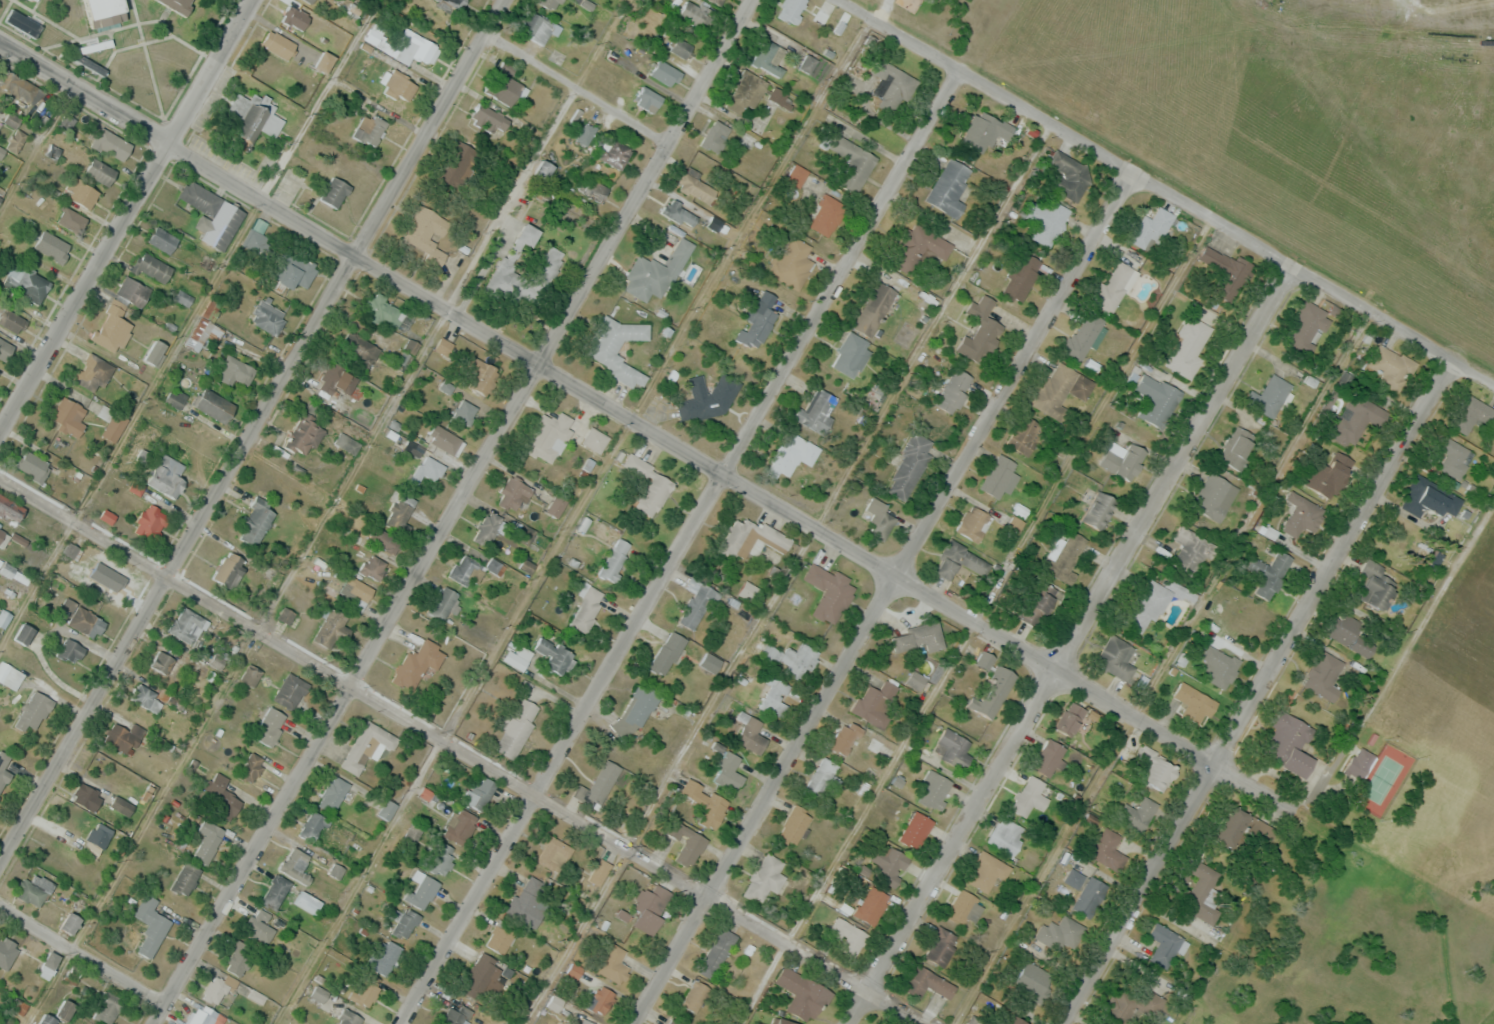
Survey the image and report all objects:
building: (37, 0)
building: (455, 3)
building: (550, 3)
building: (175, 5)
building: (792, 8)
building: (101, 10)
building: (695, 12)
building: (295, 17)
building: (438, 19)
building: (539, 26)
building: (374, 33)
building: (278, 44)
building: (410, 45)
building: (680, 47)
building: (768, 56)
building: (324, 61)
building: (664, 72)
building: (20, 85)
building: (398, 85)
building: (891, 86)
building: (503, 87)
road: (580, 90)
building: (745, 91)
building: (776, 94)
building: (648, 99)
building: (253, 117)
building: (488, 117)
building: (65, 123)
building: (369, 128)
building: (985, 130)
building: (715, 136)
building: (16, 140)
building: (111, 143)
building: (617, 154)
building: (851, 162)
building: (458, 164)
building: (545, 167)
building: (99, 172)
building: (1068, 174)
road: (1146, 179)
building: (695, 187)
building: (949, 187)
building: (592, 189)
building: (334, 191)
building: (83, 194)
building: (672, 208)
building: (212, 214)
building: (826, 214)
road: (128, 216)
building: (70, 219)
building: (1046, 220)
building: (1151, 227)
building: (426, 233)
building: (162, 239)
building: (256, 242)
building: (52, 246)
building: (920, 250)
building: (513, 259)
building: (207, 262)
building: (152, 267)
building: (294, 270)
building: (1225, 270)
building: (655, 272)
building: (1021, 276)
building: (26, 282)
building: (1114, 286)
building: (874, 308)
building: (383, 310)
building: (119, 314)
building: (267, 316)
building: (11, 318)
building: (757, 319)
building: (1303, 325)
building: (204, 328)
building: (982, 332)
building: (1083, 336)
building: (604, 345)
building: (1189, 346)
building: (5, 348)
building: (358, 349)
building: (155, 351)
building: (406, 354)
building: (851, 354)
building: (1386, 367)
building: (234, 370)
building: (93, 373)
building: (481, 376)
building: (338, 380)
building: (953, 390)
building: (1060, 390)
building: (1266, 392)
building: (175, 398)
building: (706, 398)
building: (1156, 399)
building: (214, 404)
building: (464, 411)
building: (816, 411)
building: (1469, 415)
building: (68, 416)
building: (1354, 419)
road: (644, 425)
building: (113, 427)
road: (249, 428)
building: (304, 434)
building: (1024, 434)
building: (548, 435)
building: (595, 439)
building: (445, 440)
building: (1236, 446)
building: (792, 454)
building: (1451, 457)
building: (1123, 460)
building: (33, 466)
building: (909, 466)
building: (431, 468)
building: (1326, 472)
building: (998, 475)
building: (167, 476)
building: (648, 486)
building: (513, 492)
building: (1214, 496)
building: (1426, 499)
building: (556, 506)
building: (1097, 507)
building: (10, 508)
road: (454, 511)
building: (1301, 514)
building: (399, 516)
building: (151, 522)
building: (256, 522)
building: (973, 523)
building: (487, 528)
building: (3, 538)
building: (750, 538)
road: (681, 547)
building: (1067, 551)
building: (1190, 551)
building: (615, 559)
building: (958, 560)
building: (374, 566)
building: (229, 569)
building: (470, 569)
building: (111, 574)
building: (1268, 574)
building: (1371, 587)
building: (356, 590)
building: (828, 591)
road: (884, 597)
building: (442, 602)
building: (1037, 602)
building: (1147, 605)
building: (696, 606)
building: (587, 609)
building: (285, 615)
building: (3, 617)
building: (83, 619)
building: (188, 625)
building: (332, 629)
building: (24, 633)
building: (1344, 633)
building: (919, 638)
road: (1069, 643)
building: (70, 650)
building: (667, 653)
building: (554, 654)
building: (803, 656)
building: (1116, 657)
building: (218, 660)
building: (985, 660)
building: (710, 662)
building: (165, 663)
building: (417, 664)
building: (250, 674)
building: (1323, 676)
building: (9, 679)
building: (917, 681)
building: (991, 688)
road: (1253, 688)
building: (290, 691)
building: (774, 694)
building: (147, 697)
building: (874, 703)
building: (1194, 703)
building: (33, 711)
building: (633, 712)
building: (1070, 719)
building: (271, 725)
building: (517, 728)
building: (751, 734)
building: (123, 736)
building: (845, 737)
building: (1288, 743)
building: (366, 746)
road: (464, 748)
building: (953, 748)
building: (1049, 757)
building: (1359, 763)
building: (251, 766)
building: (4, 770)
building: (728, 771)
building: (822, 777)
building: (598, 785)
building: (933, 788)
building: (480, 792)
building: (333, 793)
building: (86, 796)
building: (1029, 796)
building: (220, 797)
building: (703, 803)
building: (122, 805)
building: (387, 809)
building: (1137, 814)
building: (314, 824)
building: (458, 824)
building: (794, 824)
building: (1231, 825)
building: (916, 830)
building: (413, 832)
building: (1266, 833)
building: (99, 834)
building: (1005, 834)
building: (207, 840)
building: (685, 842)
building: (1108, 849)
building: (60, 851)
building: (553, 853)
building: (440, 858)
building: (889, 863)
building: (295, 864)
building: (336, 869)
building: (599, 871)
building: (987, 871)
building: (765, 877)
building: (185, 878)
building: (277, 888)
building: (33, 889)
building: (1196, 890)
building: (1089, 896)
building: (528, 899)
building: (306, 903)
building: (871, 905)
building: (651, 907)
building: (964, 908)
building: (404, 922)
building: (71, 923)
building: (150, 926)
building: (1061, 933)
building: (848, 935)
building: (501, 936)
building: (1164, 945)
building: (940, 946)
road: (84, 949)
building: (7, 952)
building: (716, 953)
building: (384, 956)
building: (238, 958)
building: (614, 964)
building: (482, 977)
building: (1033, 979)
building: (927, 983)
building: (215, 990)
building: (365, 991)
building: (801, 994)
building: (695, 996)
building: (601, 1000)
building: (1133, 1003)
building: (107, 1007)
building: (65, 1009)
building: (455, 1014)
building: (205, 1016)
building: (349, 1017)
building: (48, 1020)
building: (1012, 1020)
building: (585, 1021)
building: (671, 1021)
building: (777, 1021)
building: (2, 1023)

